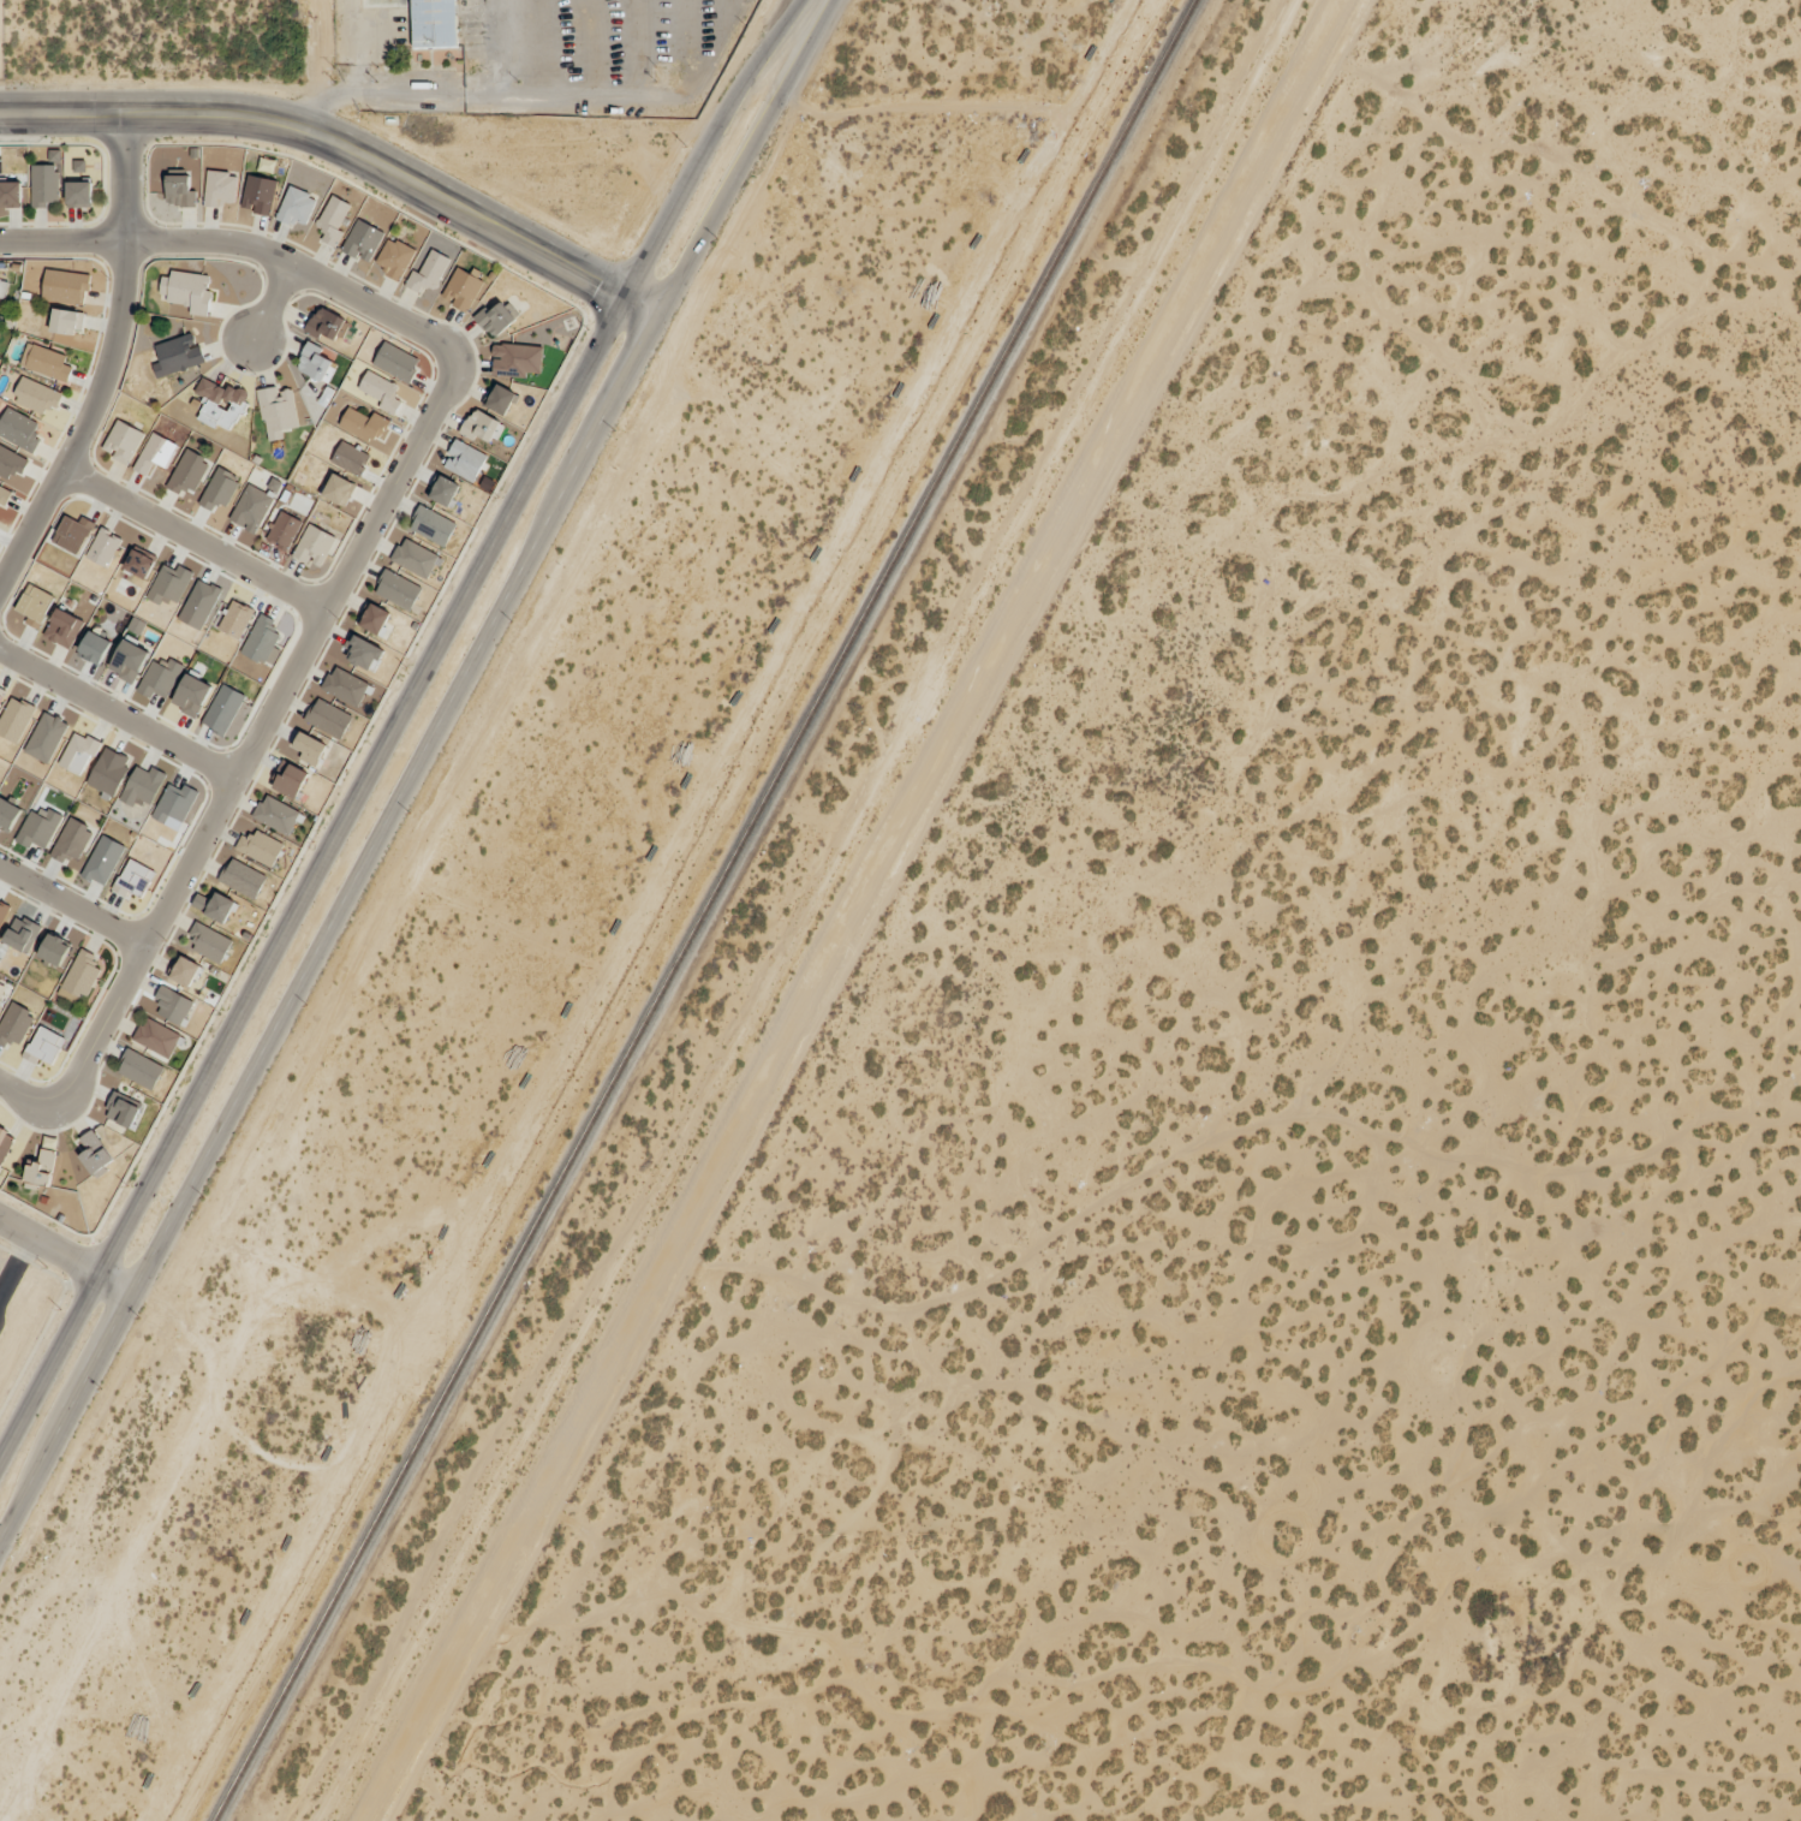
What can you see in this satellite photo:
building: (434, 23)
road: (346, 147)
building: (78, 165)
road: (125, 174)
building: (43, 184)
building: (219, 188)
building: (179, 190)
building: (10, 194)
building: (78, 194)
building: (258, 194)
building: (296, 207)
building: (332, 219)
road: (61, 237)
building: (362, 239)
building: (394, 257)
road: (299, 264)
building: (428, 272)
building: (65, 286)
building: (2, 287)
building: (461, 288)
building: (186, 290)
road: (270, 303)
building: (495, 317)
building: (66, 321)
building: (326, 323)
building: (177, 353)
building: (515, 358)
building: (395, 361)
building: (44, 362)
building: (315, 362)
building: (380, 391)
building: (35, 395)
building: (499, 398)
building: (220, 403)
building: (276, 411)
road: (87, 417)
building: (364, 423)
building: (481, 426)
building: (18, 429)
building: (121, 441)
building: (154, 453)
building: (350, 457)
building: (464, 459)
building: (11, 462)
building: (186, 472)
building: (219, 488)
building: (338, 489)
building: (442, 489)
building: (2, 494)
building: (250, 507)
building: (431, 525)
building: (282, 529)
building: (72, 532)
road: (192, 537)
building: (312, 544)
building: (103, 547)
building: (415, 558)
building: (138, 564)
building: (168, 583)
building: (396, 589)
building: (198, 603)
building: (34, 605)
building: (374, 618)
building: (234, 619)
building: (62, 627)
building: (94, 647)
building: (363, 651)
building: (129, 660)
building: (159, 677)
building: (345, 685)
building: (0, 689)
building: (191, 694)
building: (222, 708)
road: (115, 713)
building: (14, 718)
building: (328, 718)
road: (395, 724)
road: (256, 734)
building: (44, 737)
building: (309, 748)
building: (77, 752)
building: (108, 770)
road: (415, 770)
building: (288, 779)
building: (142, 786)
building: (173, 803)
building: (7, 814)
building: (276, 814)
building: (37, 827)
building: (71, 841)
building: (258, 846)
building: (102, 859)
building: (133, 877)
building: (241, 877)
building: (214, 905)
road: (72, 906)
railway: (705, 910)
building: (2, 911)
building: (20, 933)
building: (208, 941)
building: (53, 951)
building: (184, 970)
building: (80, 974)
building: (172, 1004)
building: (14, 1023)
building: (156, 1036)
building: (43, 1045)
building: (139, 1069)
road: (24, 1096)
building: (121, 1109)
building: (4, 1143)
building: (94, 1153)
building: (40, 1167)
road: (66, 1254)
road: (17, 1267)

